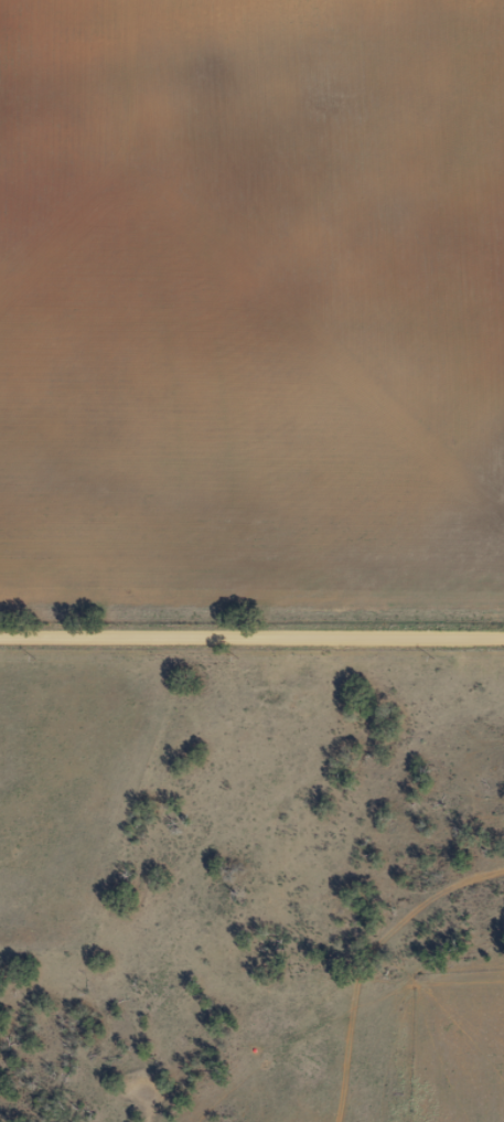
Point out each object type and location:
road: (251, 658)
road: (386, 980)

